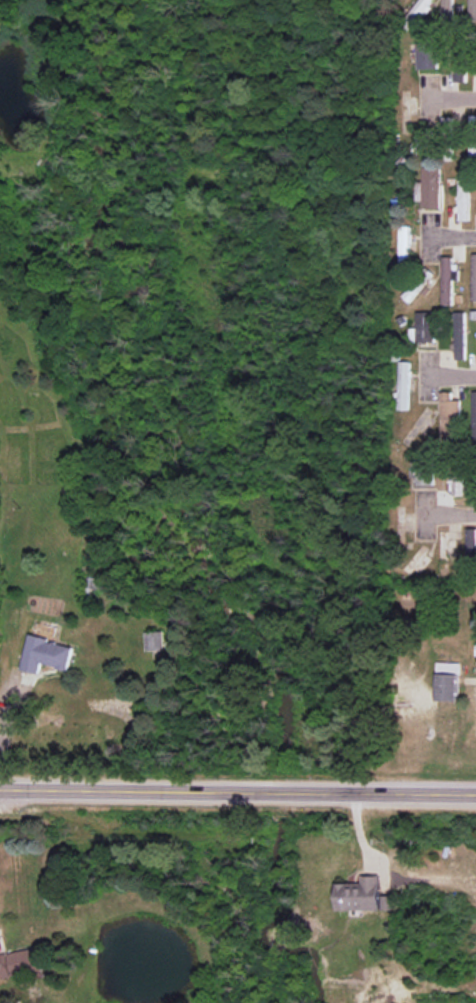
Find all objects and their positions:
building: (420, 9)
building: (473, 11)
building: (448, 12)
building: (427, 55)
building: (461, 73)
road: (450, 97)
building: (473, 131)
building: (431, 188)
building: (464, 196)
road: (449, 235)
building: (406, 245)
building: (474, 276)
building: (449, 279)
building: (425, 327)
building: (461, 335)
road: (450, 375)
building: (405, 385)
building: (474, 416)
building: (452, 417)
building: (427, 469)
building: (459, 482)
road: (449, 514)
building: (472, 544)
building: (154, 640)
building: (46, 654)
building: (449, 681)
road: (4, 729)
road: (238, 789)
building: (360, 894)
building: (23, 963)

